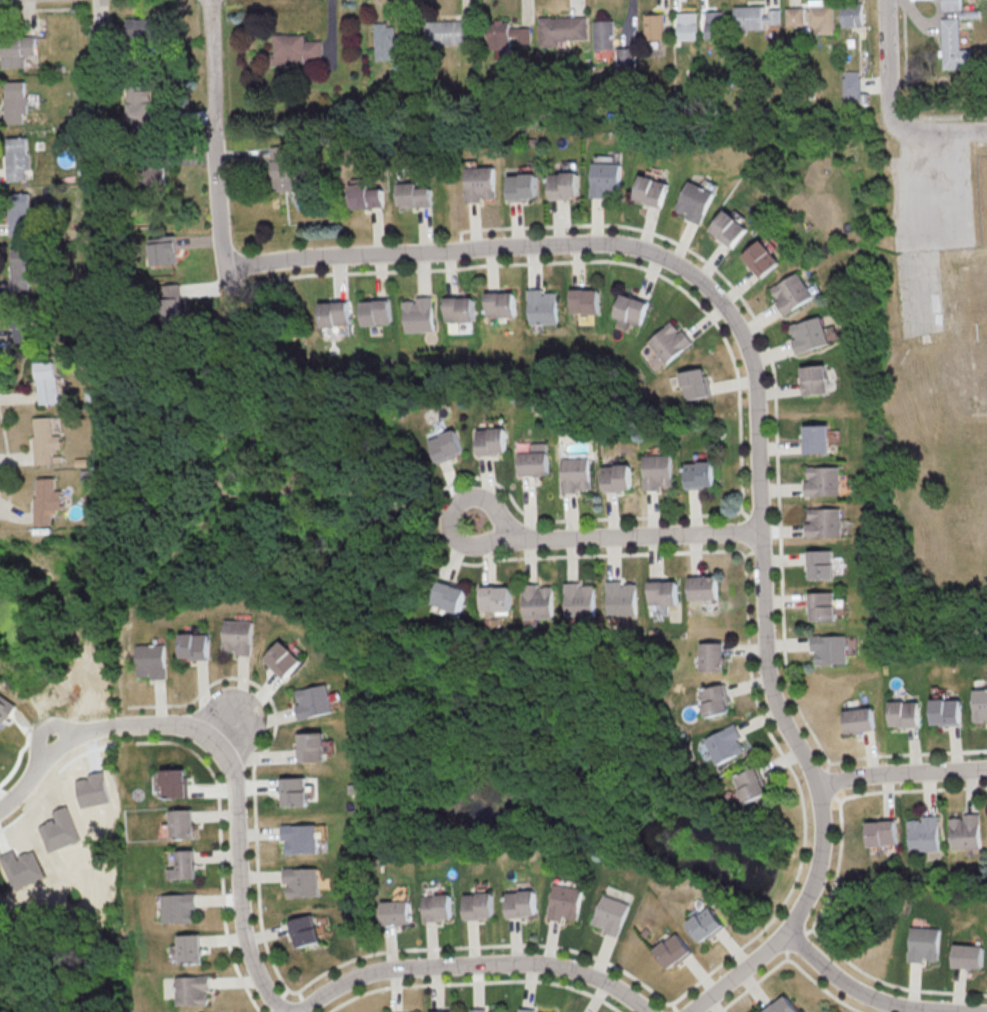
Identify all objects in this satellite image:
building: (794, 16)
building: (820, 16)
building: (747, 17)
building: (714, 24)
building: (686, 25)
building: (652, 26)
building: (143, 27)
building: (560, 29)
building: (449, 31)
building: (602, 34)
building: (505, 35)
building: (100, 37)
building: (388, 39)
building: (953, 45)
building: (15, 50)
building: (293, 50)
building: (623, 57)
road: (887, 59)
building: (851, 85)
road: (905, 96)
building: (14, 101)
building: (137, 105)
road: (221, 131)
road: (936, 131)
building: (16, 158)
building: (280, 168)
building: (154, 176)
building: (605, 179)
building: (480, 183)
building: (563, 184)
building: (522, 186)
building: (650, 190)
building: (413, 195)
building: (366, 196)
parking lot: (934, 199)
building: (694, 201)
building: (19, 214)
building: (729, 228)
building: (161, 250)
building: (761, 258)
building: (21, 269)
building: (792, 293)
building: (585, 301)
building: (169, 302)
building: (499, 304)
building: (541, 307)
building: (458, 308)
building: (631, 308)
building: (374, 312)
building: (333, 313)
building: (417, 314)
park: (981, 328)
building: (20, 334)
building: (809, 334)
building: (665, 345)
building: (814, 379)
building: (45, 382)
building: (695, 383)
road: (763, 427)
building: (816, 438)
building: (41, 440)
building: (491, 440)
building: (445, 445)
building: (535, 460)
building: (658, 471)
building: (575, 474)
building: (700, 474)
building: (617, 477)
building: (822, 480)
building: (43, 500)
building: (822, 521)
road: (620, 533)
building: (820, 564)
building: (703, 587)
building: (450, 595)
building: (497, 598)
building: (621, 598)
building: (579, 599)
building: (538, 601)
building: (822, 605)
building: (237, 636)
building: (193, 645)
building: (829, 648)
building: (711, 656)
building: (283, 659)
building: (150, 660)
building: (714, 700)
building: (314, 701)
building: (979, 705)
building: (945, 711)
building: (904, 713)
building: (858, 720)
building: (725, 743)
building: (311, 746)
road: (224, 757)
road: (906, 772)
building: (173, 782)
building: (751, 784)
building: (293, 791)
building: (181, 823)
building: (965, 831)
building: (881, 832)
building: (923, 833)
building: (299, 838)
building: (182, 865)
building: (301, 881)
building: (563, 902)
building: (520, 903)
building: (478, 905)
building: (177, 907)
building: (436, 907)
building: (395, 911)
building: (609, 914)
building: (705, 923)
building: (304, 930)
building: (923, 944)
building: (188, 948)
building: (673, 950)
building: (172, 953)
building: (966, 956)
road: (480, 964)
building: (190, 989)
road: (877, 997)
building: (781, 1005)
building: (487, 1010)
building: (447, 1011)
building: (532, 1011)

